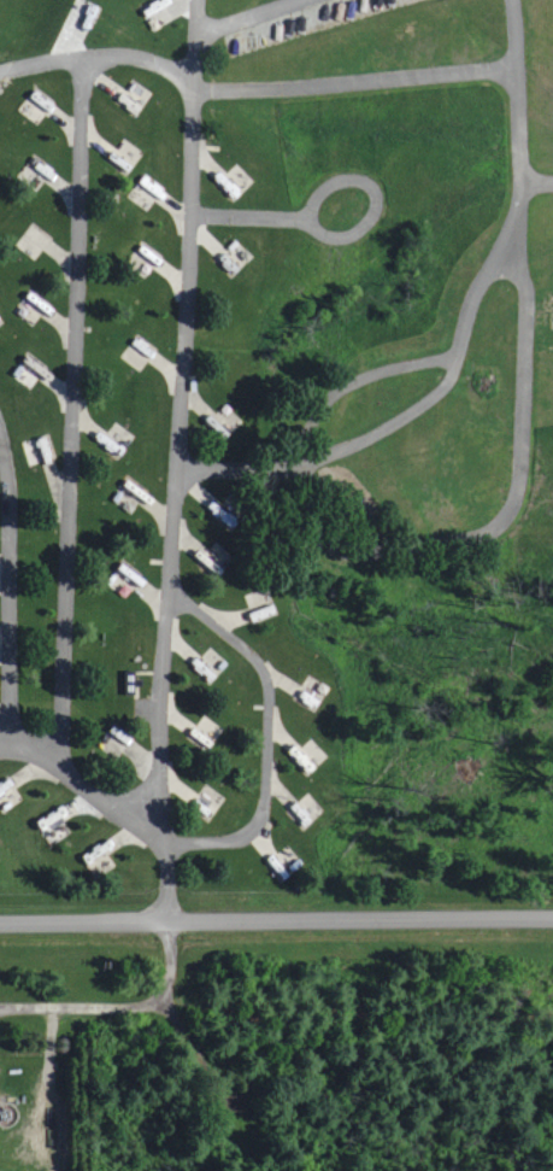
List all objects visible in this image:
road: (245, 16)
road: (271, 42)
road: (253, 88)
road: (537, 182)
road: (375, 197)
road: (248, 216)
road: (463, 330)
road: (357, 379)
road: (72, 404)
road: (176, 459)
road: (500, 517)
road: (7, 686)
road: (269, 734)
road: (4, 740)
building: (98, 859)
road: (276, 919)
road: (119, 1006)
road: (549, 1011)
road: (222, 1083)
road: (43, 1091)
road: (36, 1129)

